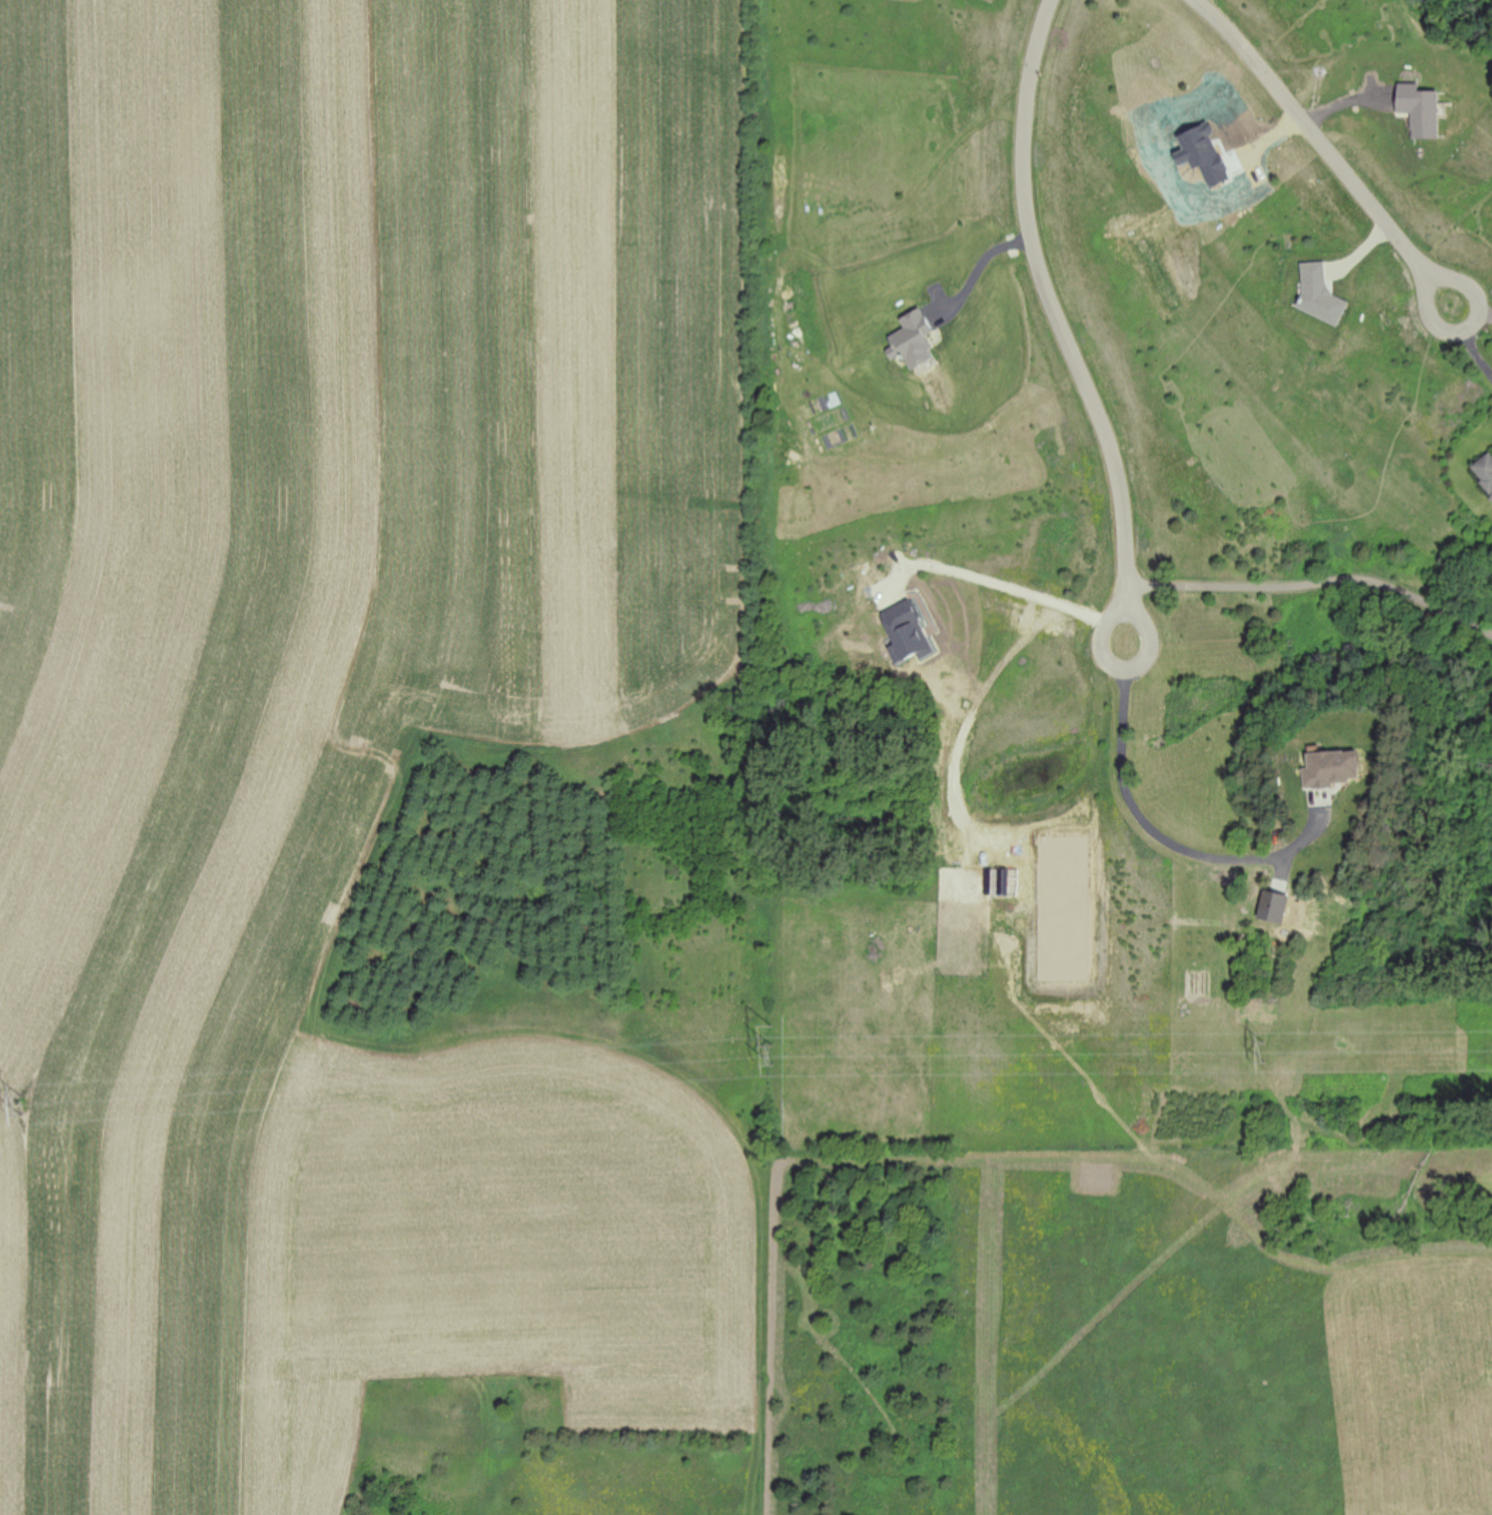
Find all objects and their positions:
road: (1326, 149)
road: (979, 258)
road: (1064, 324)
road: (1469, 339)
road: (1317, 576)
road: (1012, 579)
crop: (381, 759)
road: (1146, 823)
power tower: (777, 1049)
power tower: (1299, 1057)
power tower: (27, 1105)
crop: (1224, 1332)

